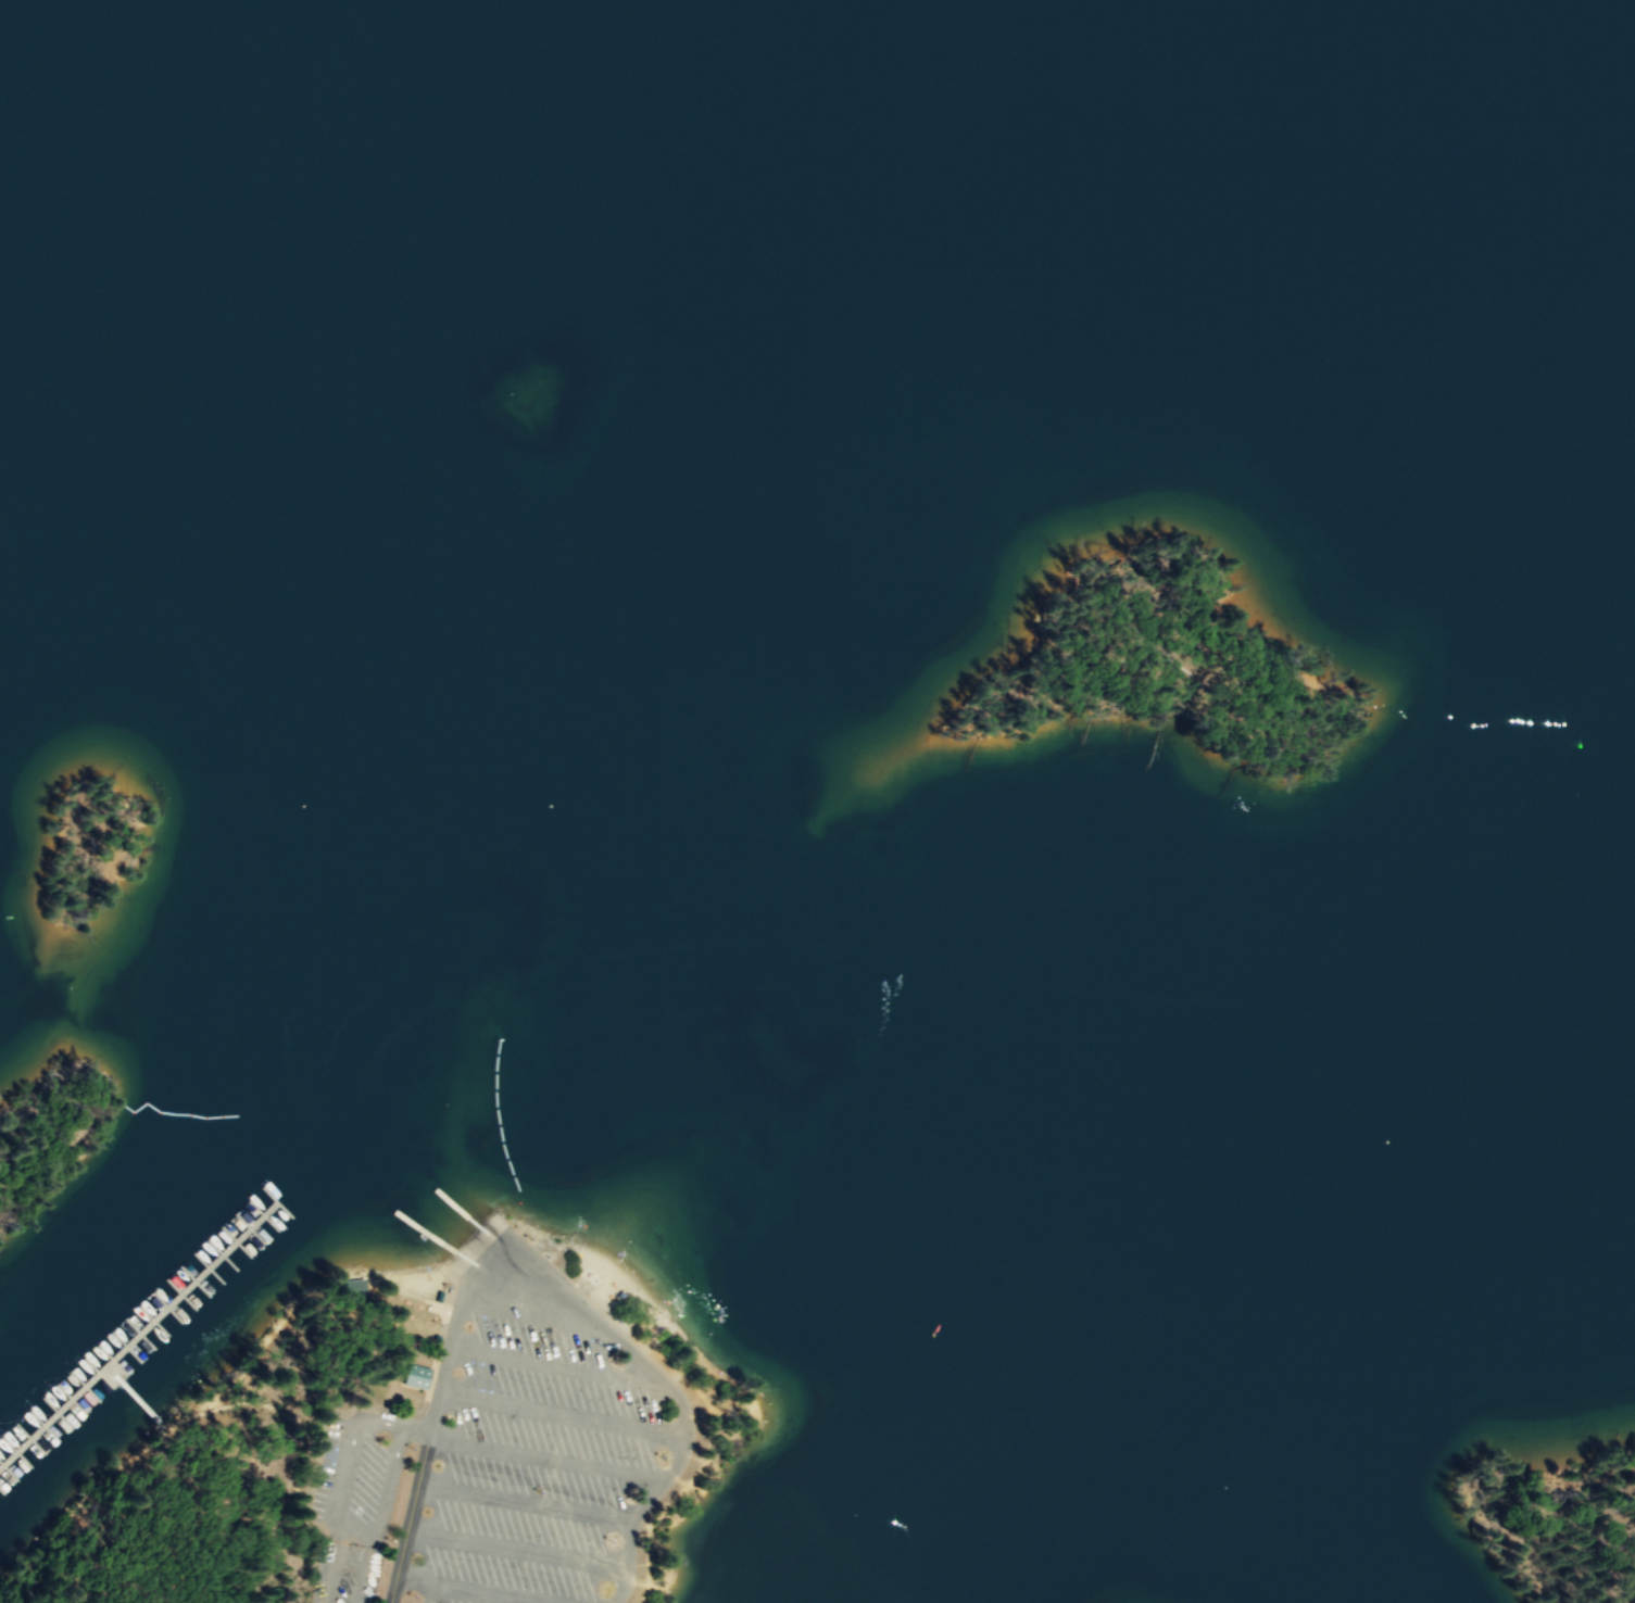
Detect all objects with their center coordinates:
pier: (250, 1188)
pier: (264, 1201)
pier: (237, 1202)
pier: (252, 1215)
pier: (225, 1216)
pier: (213, 1229)
pier: (239, 1229)
pier: (200, 1244)
pier: (227, 1244)
road: (476, 1254)
pier: (213, 1257)
pier: (187, 1258)
pier: (201, 1271)
pier: (174, 1273)
pier: (189, 1286)
pier: (162, 1287)
road: (556, 1291)
pier: (176, 1300)
pier: (149, 1301)
pier: (137, 1315)
pier: (164, 1315)
pier: (151, 1328)
pier: (124, 1330)
pier: (128, 1339)
pier: (138, 1342)
pier: (112, 1345)
pier: (125, 1355)
pier: (99, 1359)
building: (415, 1371)
pier: (86, 1373)
road: (587, 1374)
pier: (74, 1387)
pier: (88, 1399)
pier: (61, 1400)
pier: (133, 1402)
road: (243, 1403)
road: (424, 1406)
pier: (76, 1414)
pier: (49, 1415)
road: (592, 1421)
pier: (63, 1428)
pier: (36, 1429)
road: (339, 1431)
pier: (50, 1442)
pier: (23, 1443)
parking lot: (540, 1446)
road: (424, 1451)
pier: (37, 1456)
pier: (10, 1457)
road: (564, 1465)
pier: (25, 1472)
pier: (2, 1476)
parking lot: (361, 1478)
pier: (12, 1486)
pier: (3, 1502)
road: (551, 1510)
road: (338, 1512)
road: (527, 1555)
road: (416, 1586)
road: (435, 1595)
road: (481, 1595)

